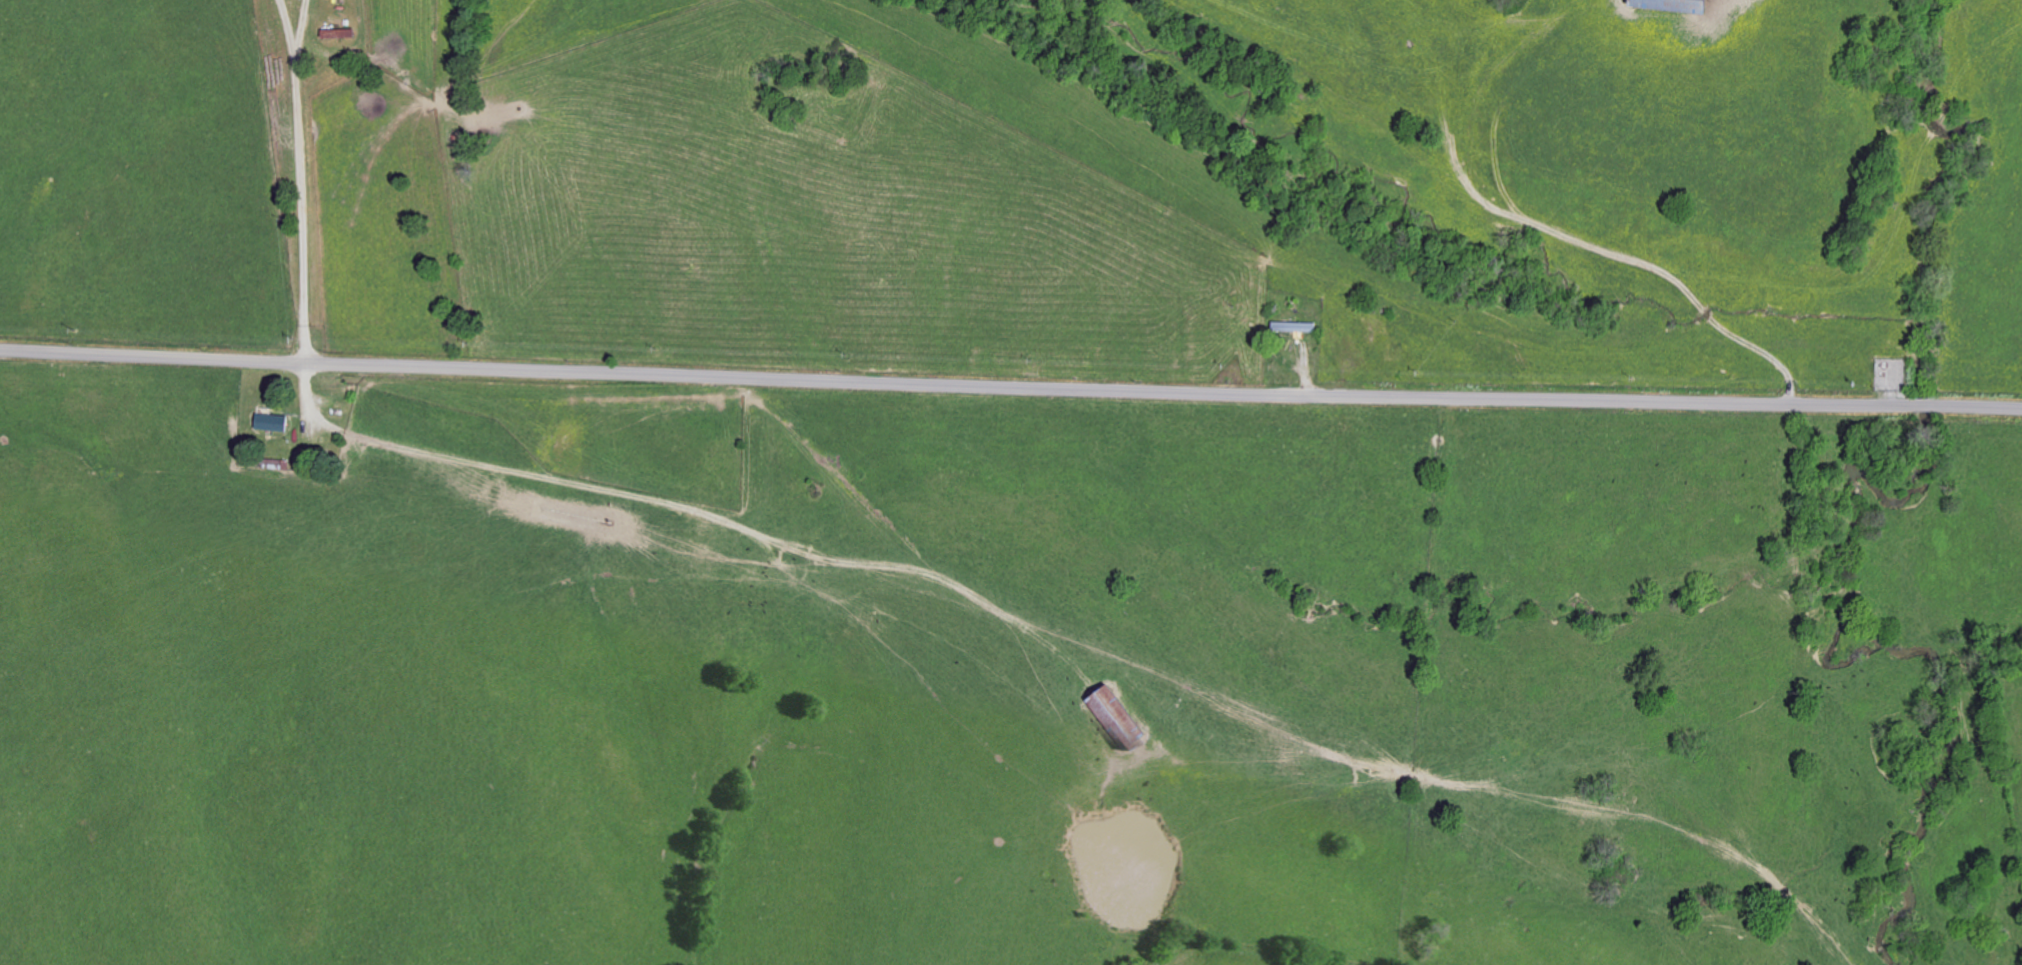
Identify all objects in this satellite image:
building: (1671, 5)
road: (302, 180)
building: (1294, 327)
road: (1010, 390)
building: (271, 422)
building: (1115, 715)

